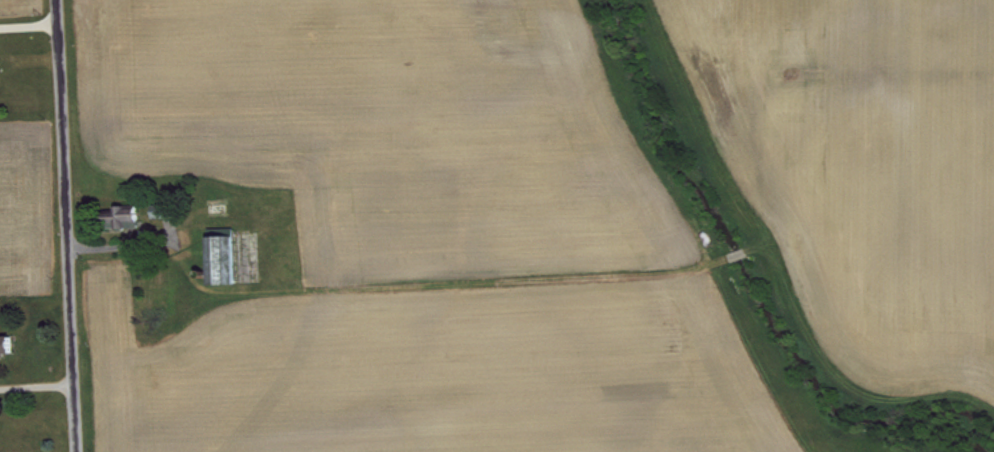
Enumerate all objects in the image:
road: (29, 24)
building: (167, 217)
building: (131, 223)
road: (66, 226)
building: (227, 265)
building: (9, 352)
road: (36, 392)

